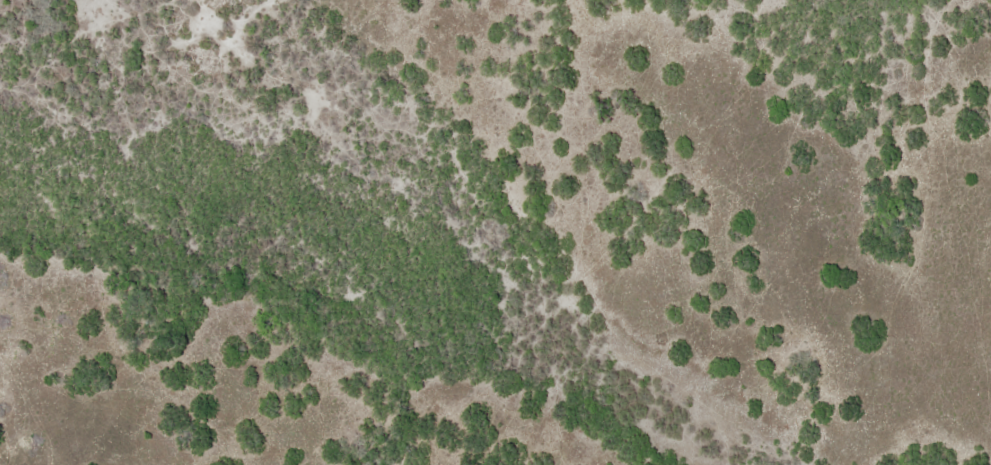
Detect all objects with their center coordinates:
road: (10, 24)
road: (37, 381)

